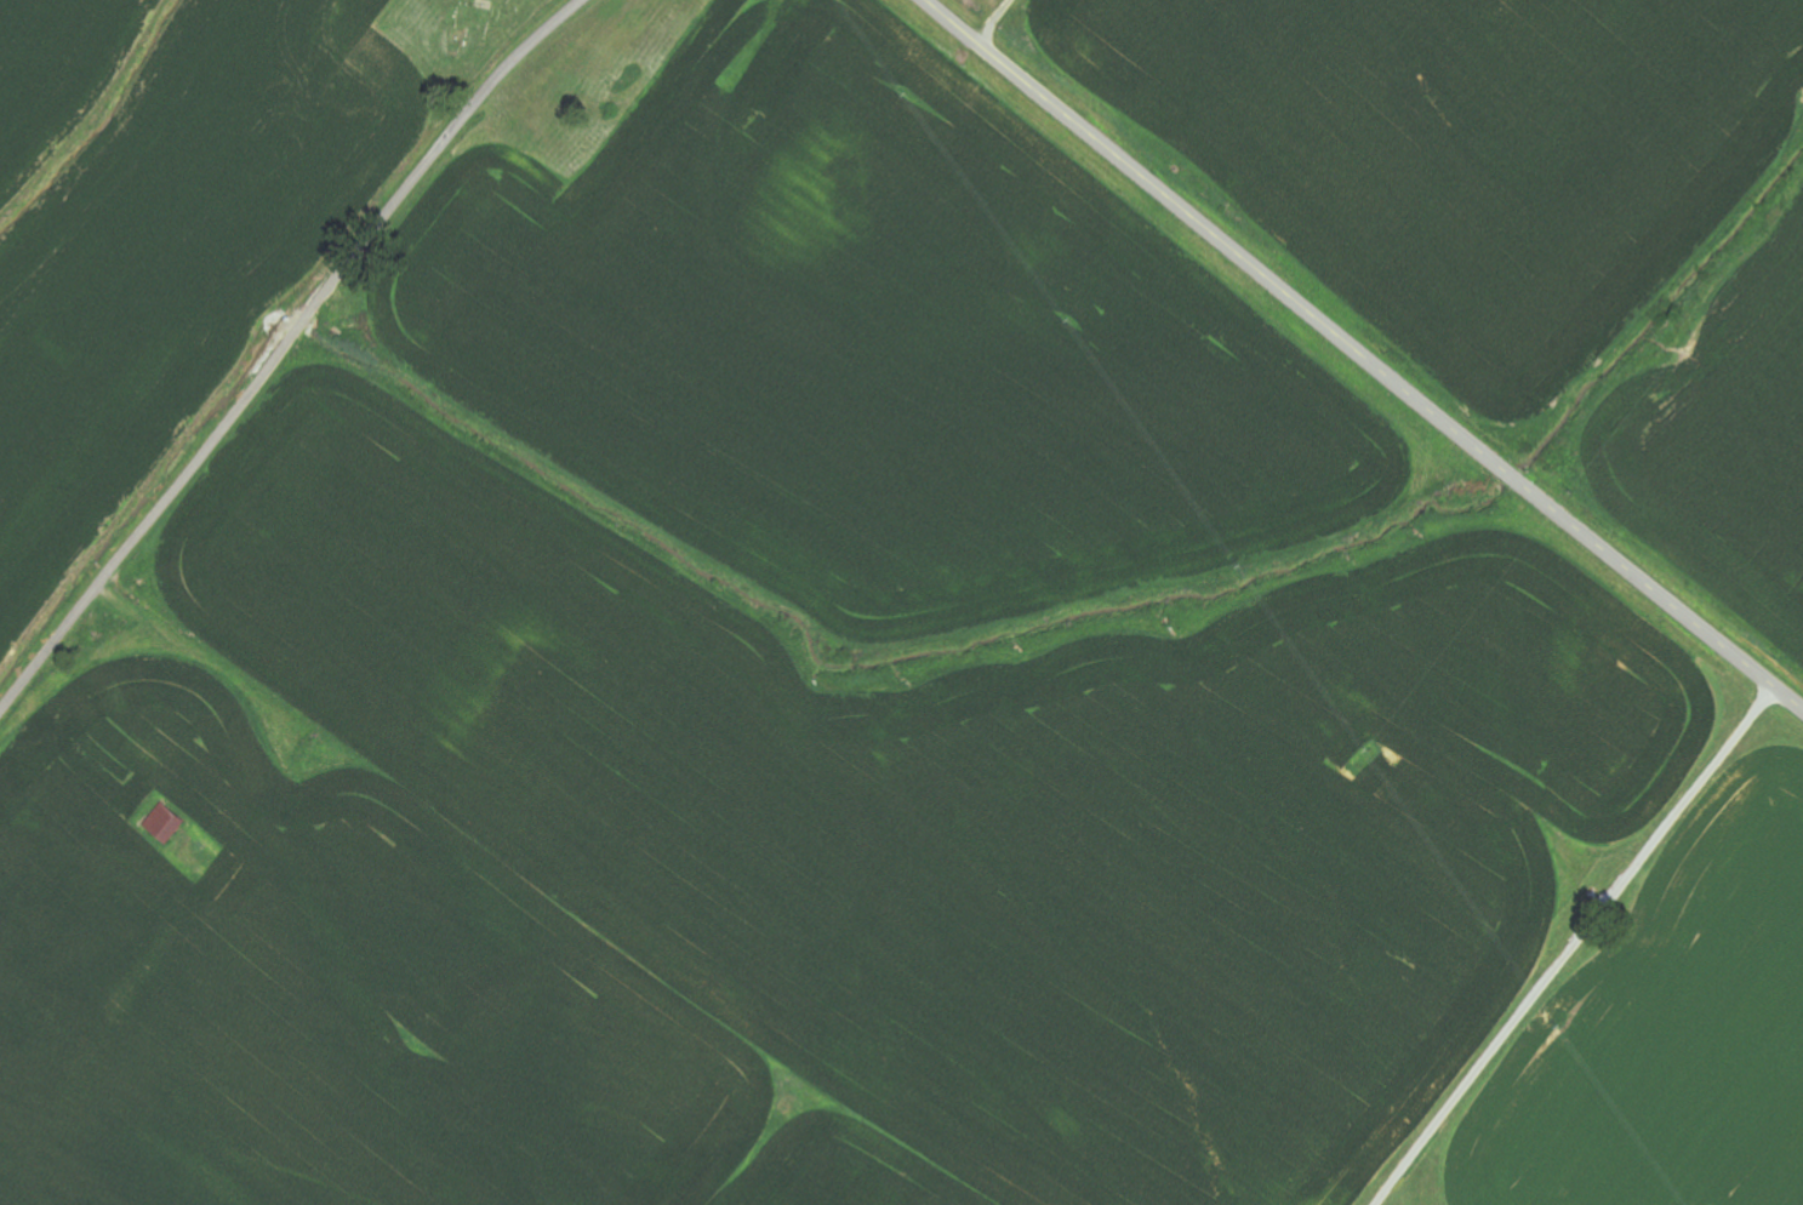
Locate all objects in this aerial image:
park: (458, 32)
road: (284, 349)
road: (1363, 355)
building: (165, 826)

